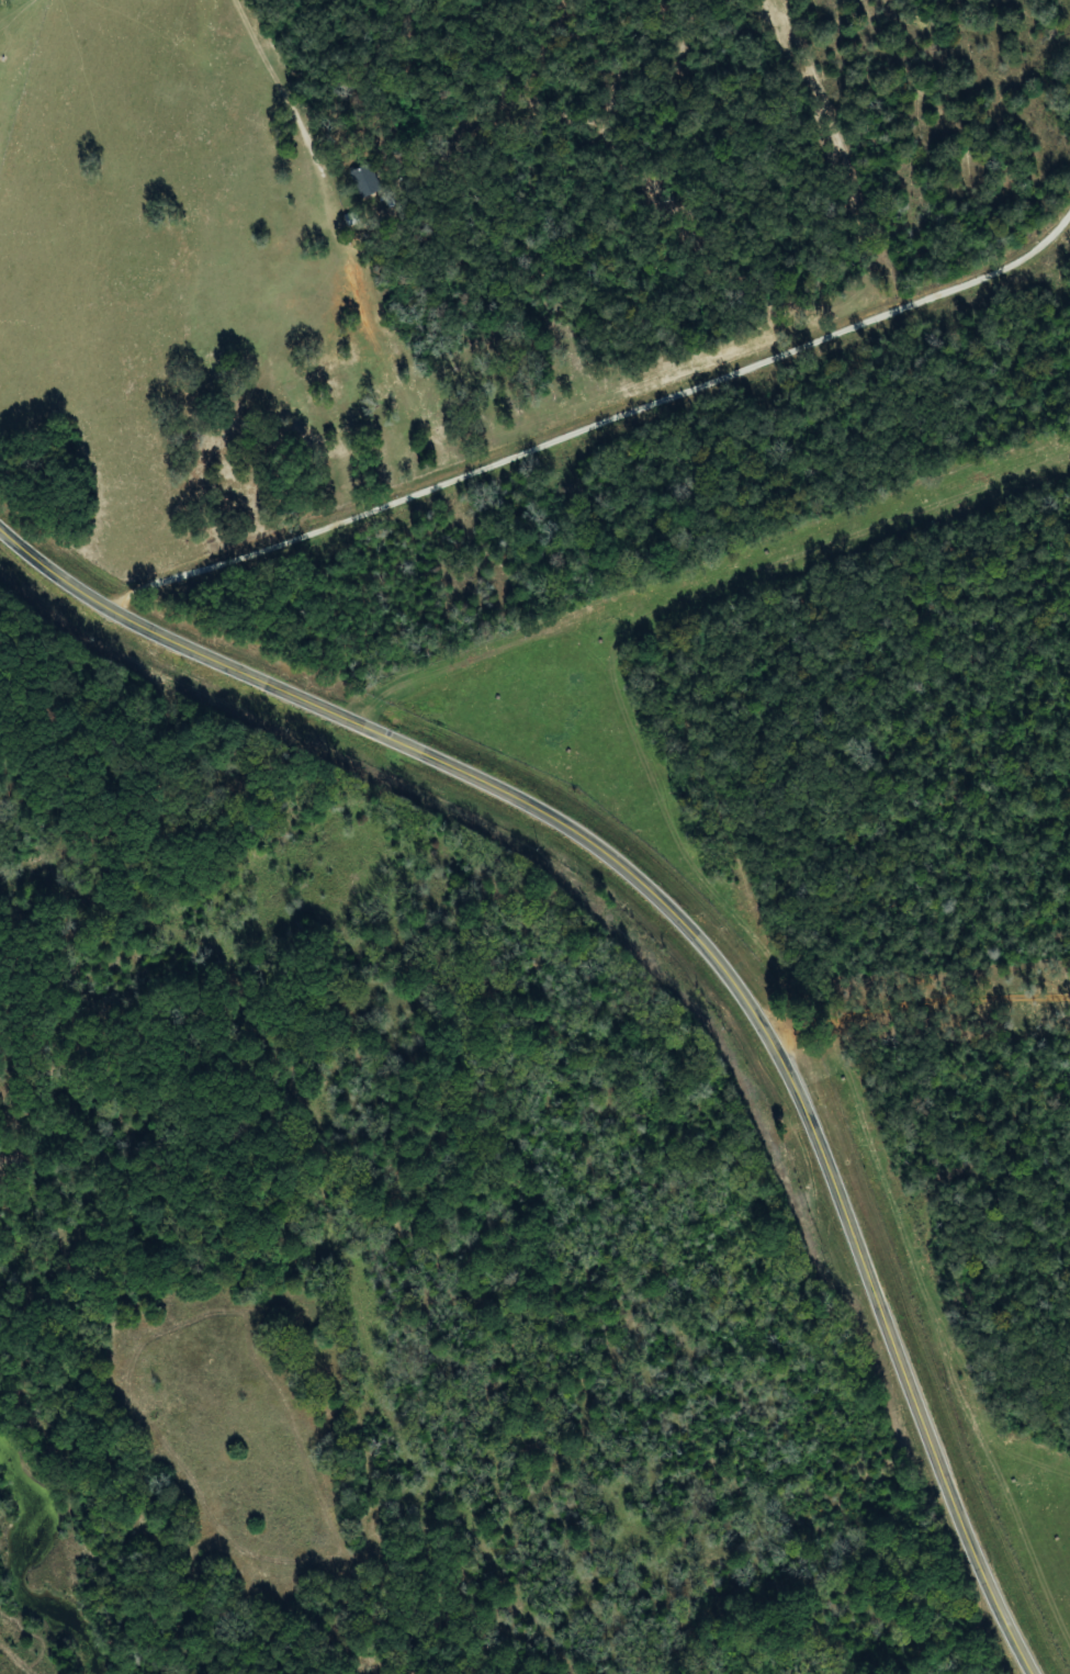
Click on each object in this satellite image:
road: (880, 490)
road: (647, 689)
road: (697, 936)
road: (917, 1007)

